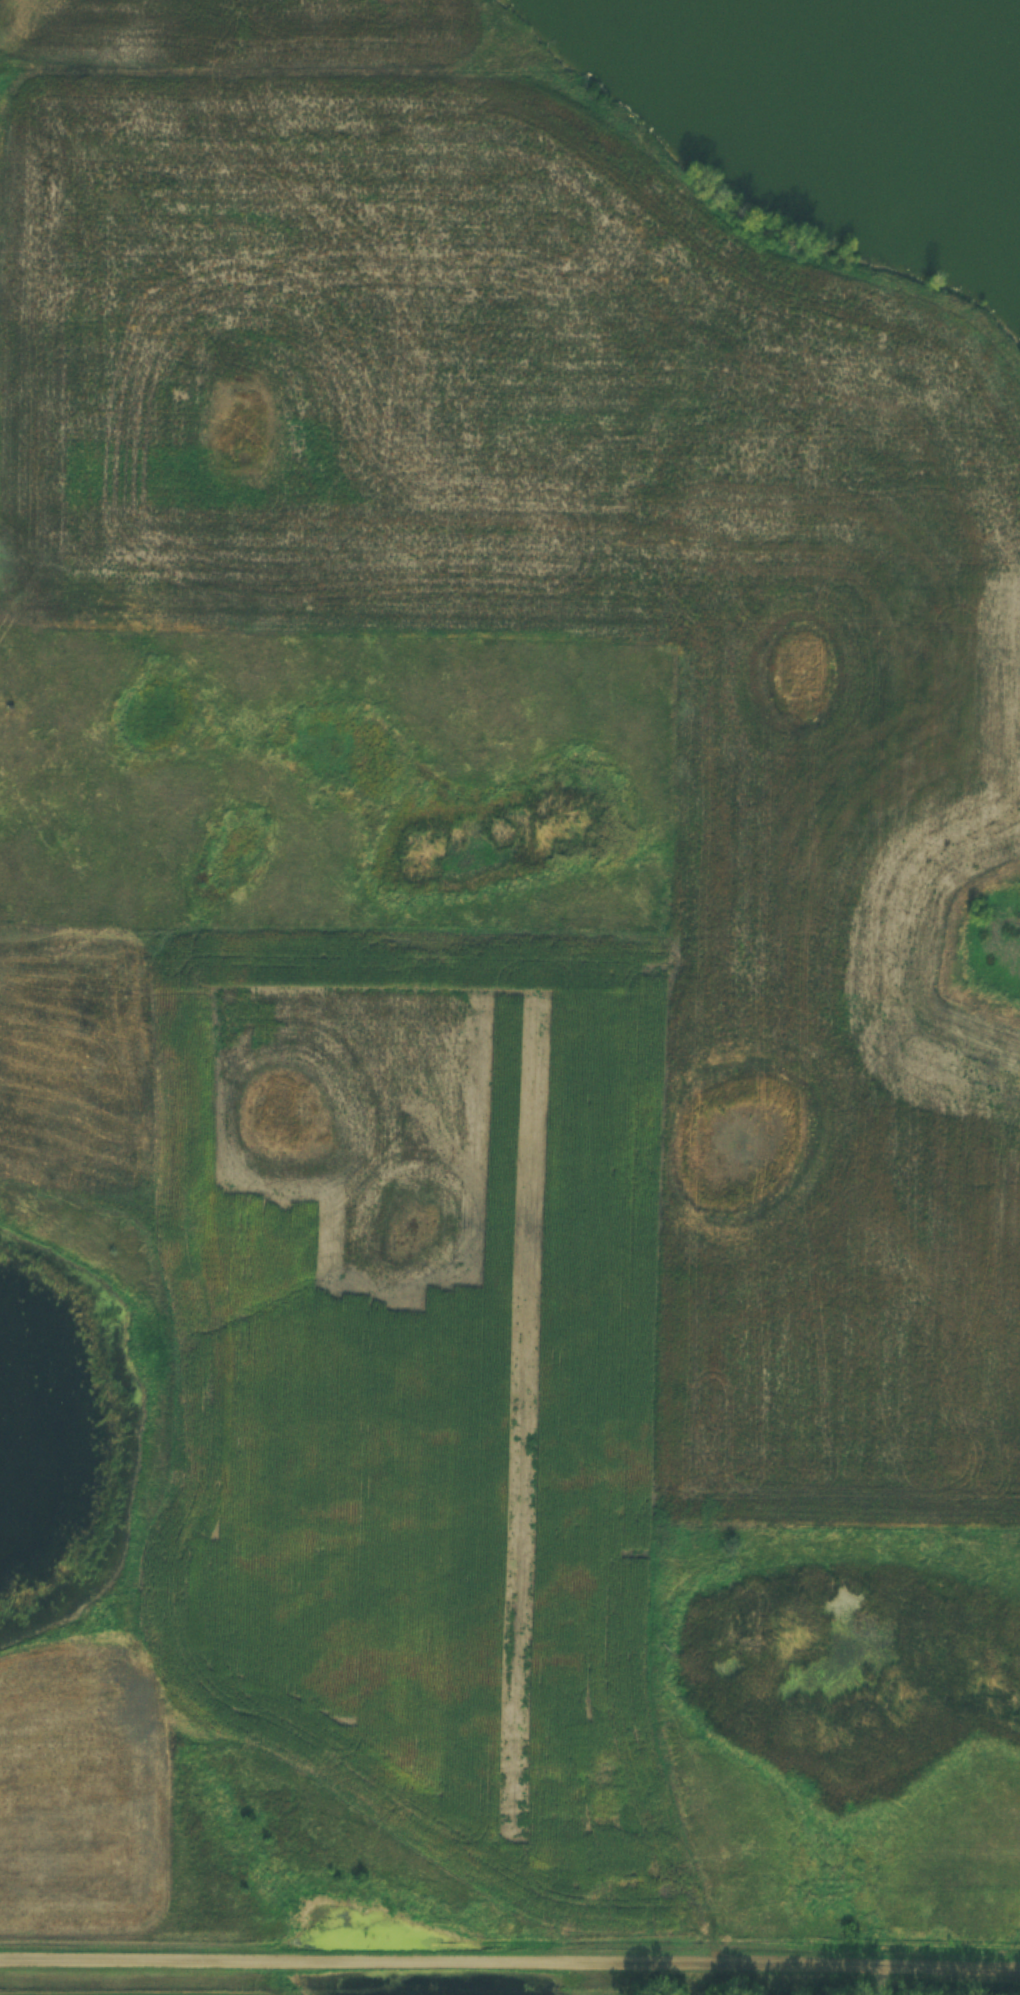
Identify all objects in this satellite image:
road: (509, 1972)

